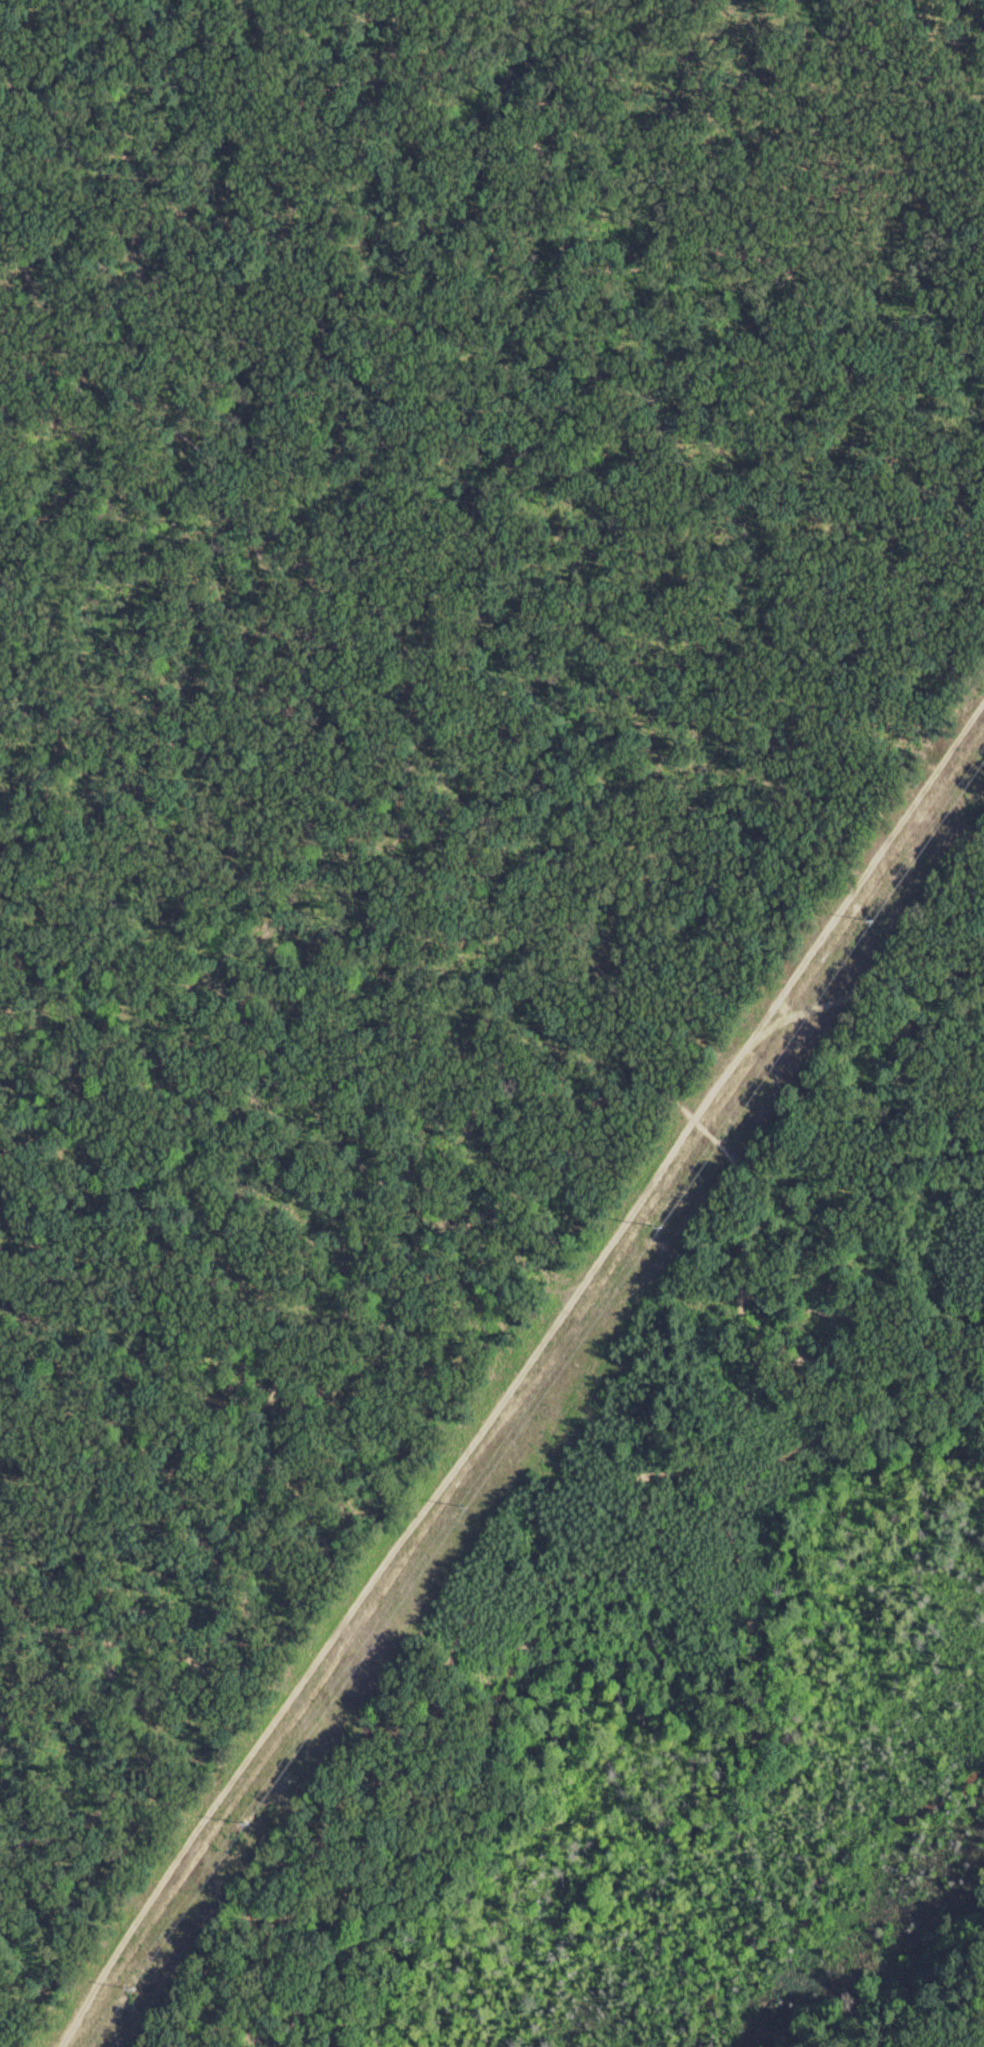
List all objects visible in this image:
road: (106, 29)
road: (921, 50)
road: (686, 251)
road: (301, 379)
road: (373, 585)
road: (357, 1306)
road: (629, 1640)
road: (457, 1649)
road: (942, 2012)

